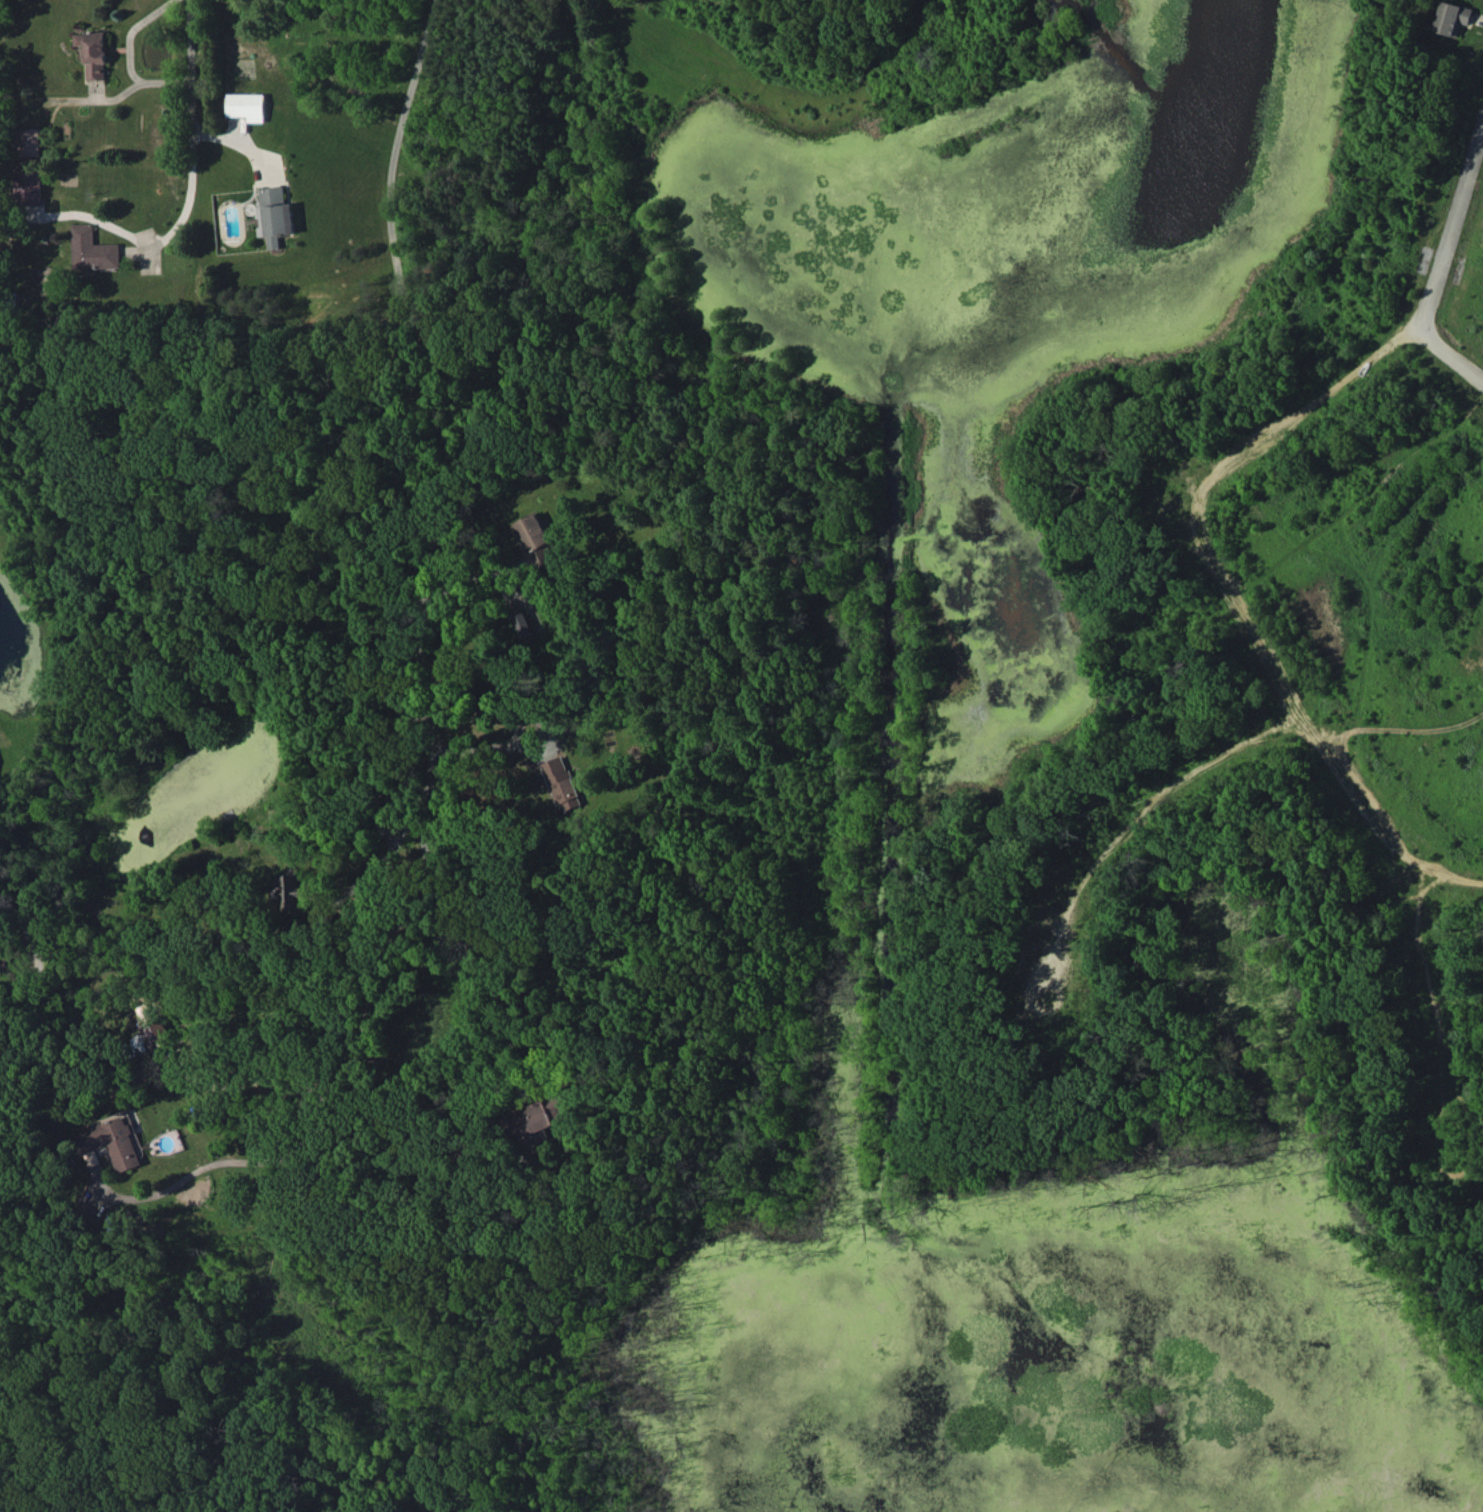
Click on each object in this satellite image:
building: (1453, 18)
building: (94, 53)
road: (130, 58)
building: (247, 106)
road: (190, 127)
building: (29, 142)
road: (241, 147)
building: (29, 187)
building: (277, 214)
building: (93, 250)
road: (1439, 255)
building: (48, 279)
building: (537, 539)
road: (473, 572)
building: (525, 623)
road: (418, 655)
road: (486, 750)
building: (563, 783)
road: (380, 862)
building: (292, 892)
road: (492, 909)
building: (156, 1034)
building: (537, 1117)
building: (111, 1142)

